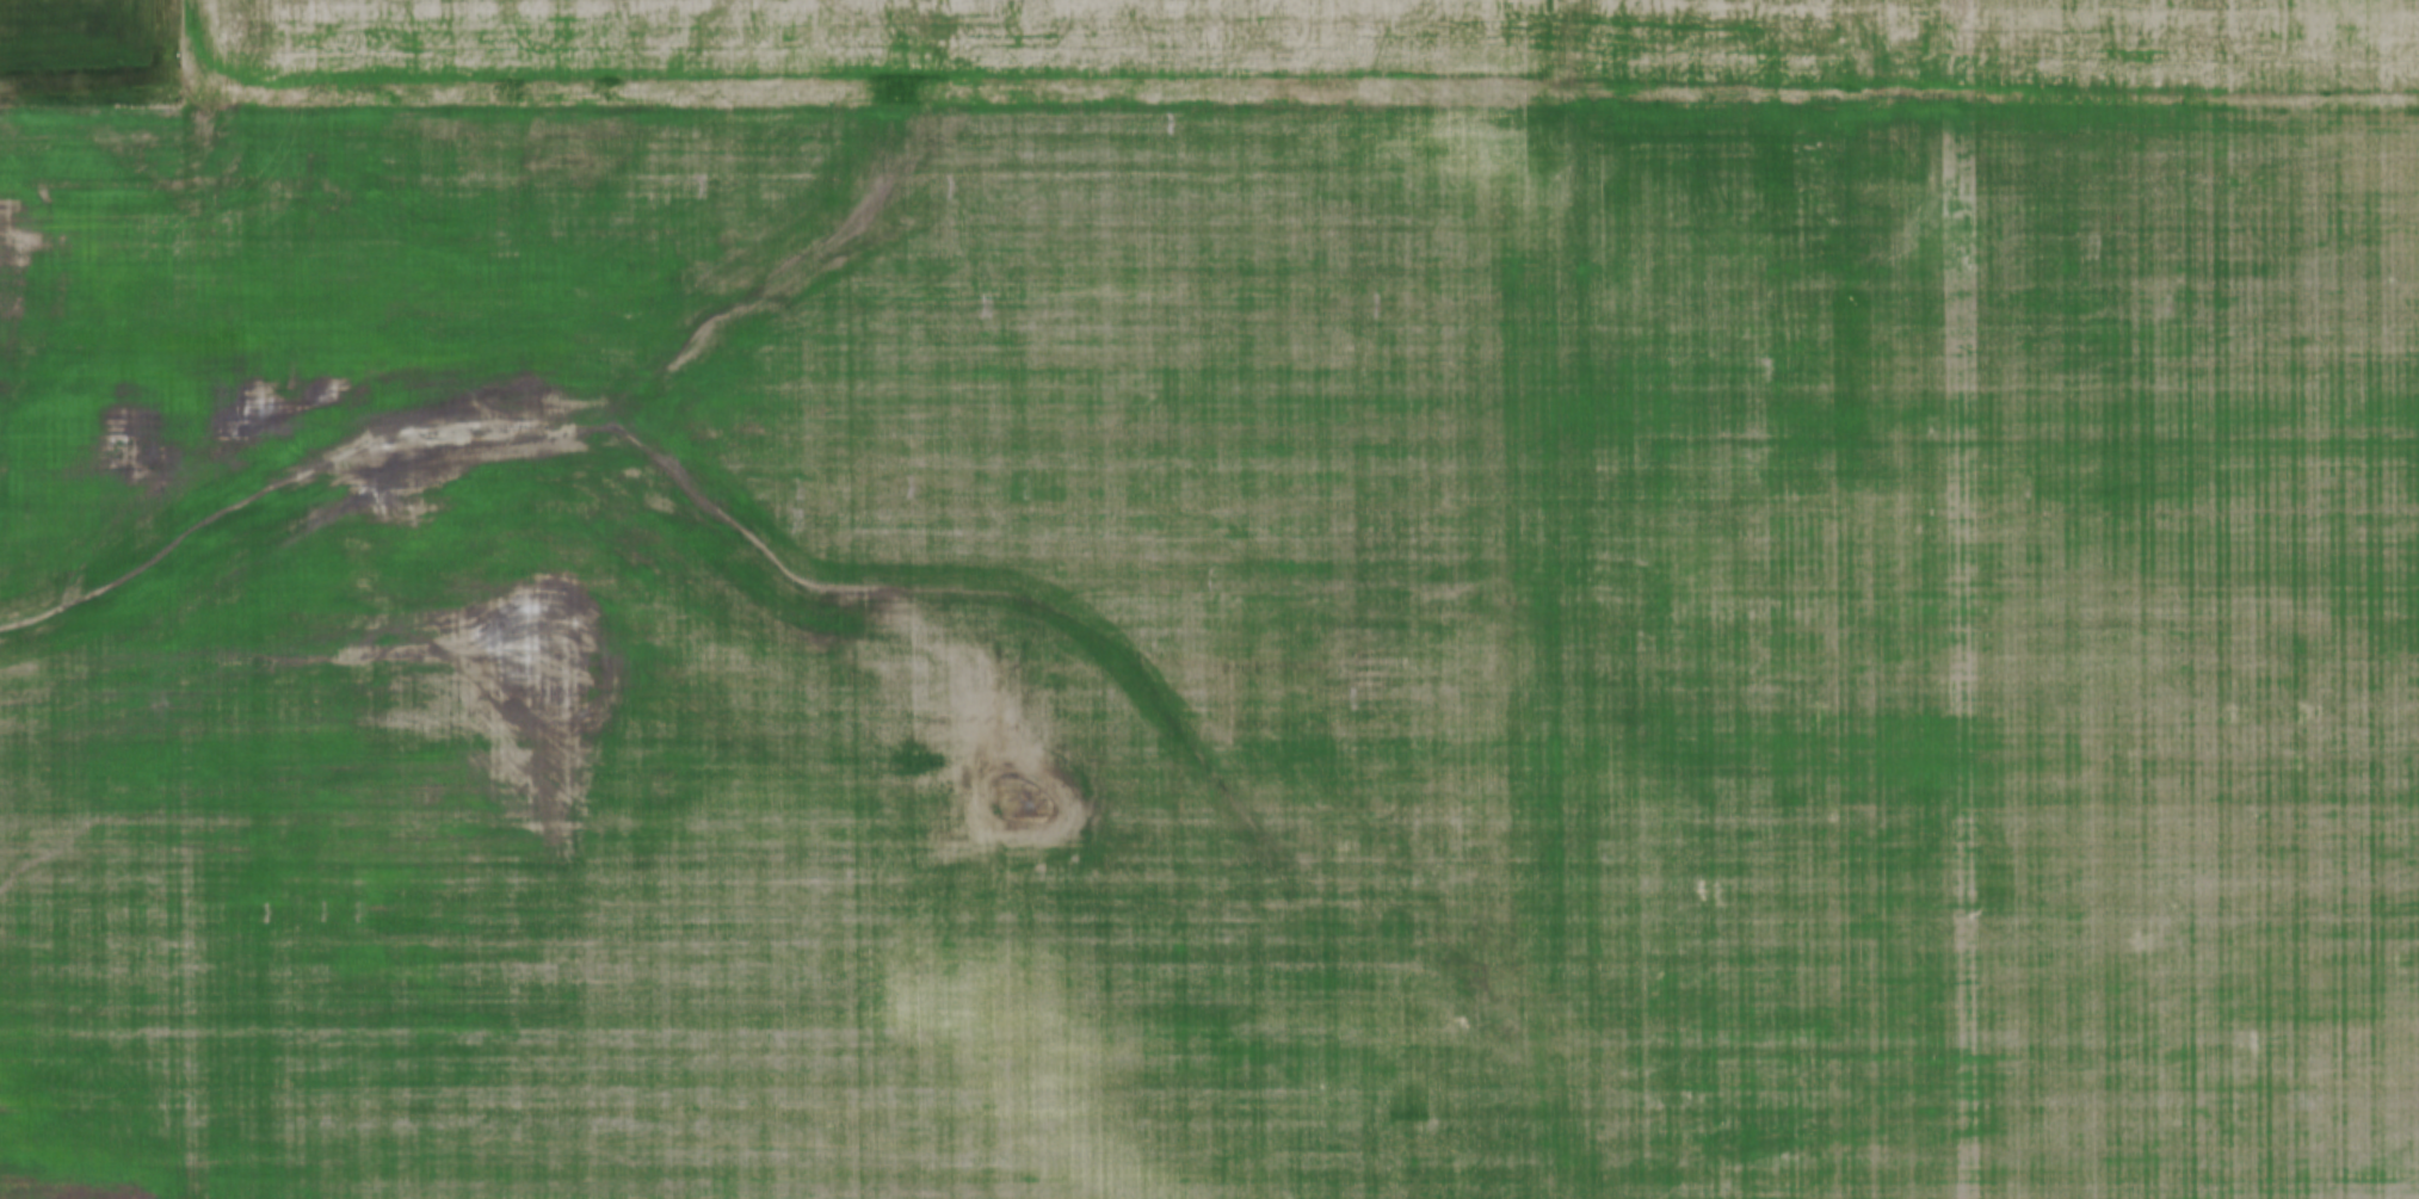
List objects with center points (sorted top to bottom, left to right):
road: (175, 41)
road: (1297, 78)
road: (88, 80)

